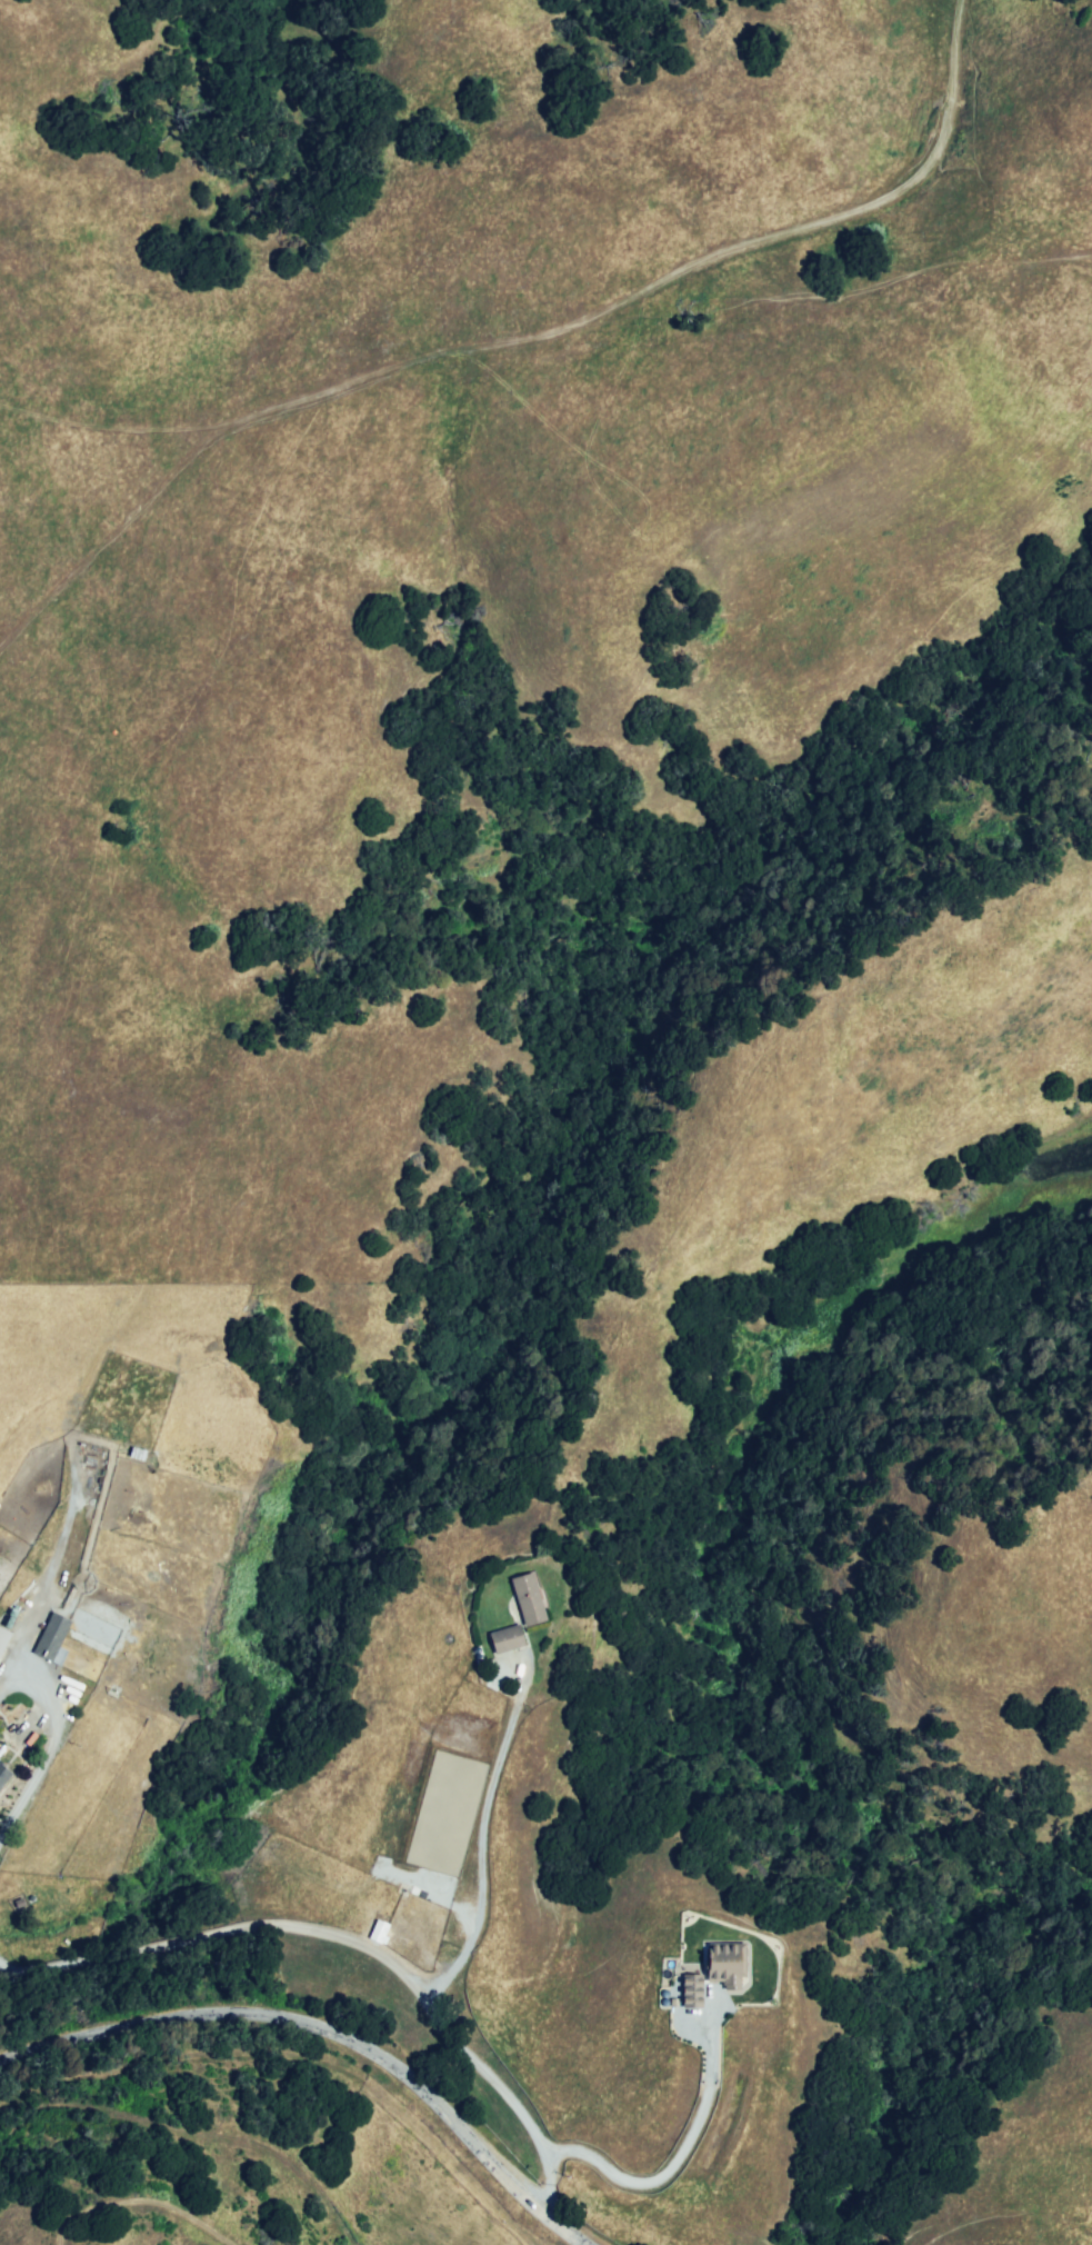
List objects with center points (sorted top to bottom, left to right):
road: (527, 348)
building: (528, 1600)
building: (2, 1636)
building: (49, 1636)
building: (507, 1640)
road: (49, 1759)
road: (501, 1765)
building: (6, 1775)
building: (379, 1928)
road: (483, 1929)
road: (348, 1938)
building: (728, 1967)
building: (689, 1995)
road: (329, 2027)
road: (672, 2161)

